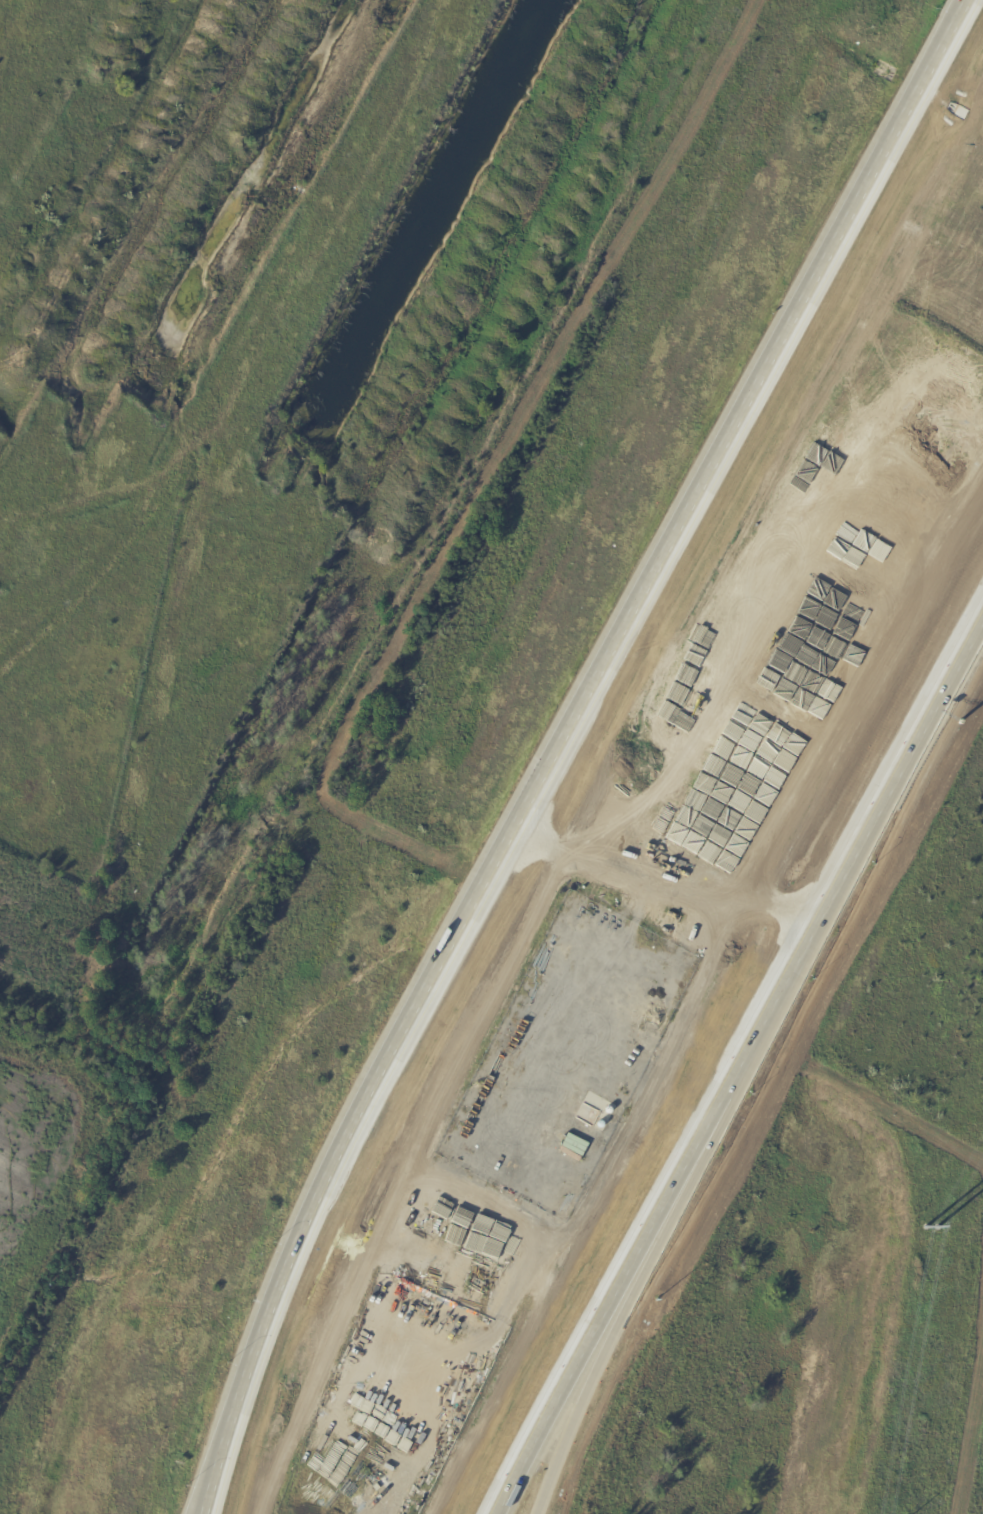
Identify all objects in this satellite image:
road: (579, 698)
road: (662, 907)
road: (821, 920)
power tower: (929, 1228)
road: (582, 1361)
road: (600, 1361)
road: (206, 1461)
road: (213, 1461)

